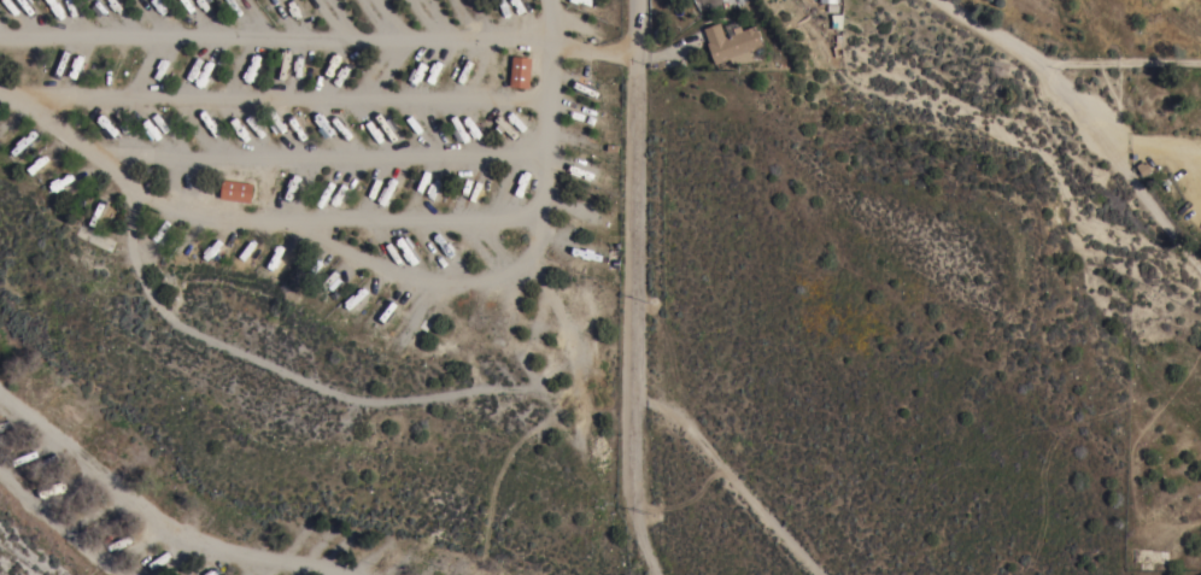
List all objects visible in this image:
building: (828, 1)
road: (552, 22)
road: (279, 35)
building: (731, 45)
road: (596, 53)
road: (1121, 61)
building: (520, 72)
road: (279, 96)
road: (1084, 121)
road: (547, 129)
road: (82, 141)
building: (235, 190)
road: (637, 198)
road: (336, 213)
road: (638, 454)
road: (733, 477)
road: (150, 511)
road: (68, 530)
road: (643, 546)

